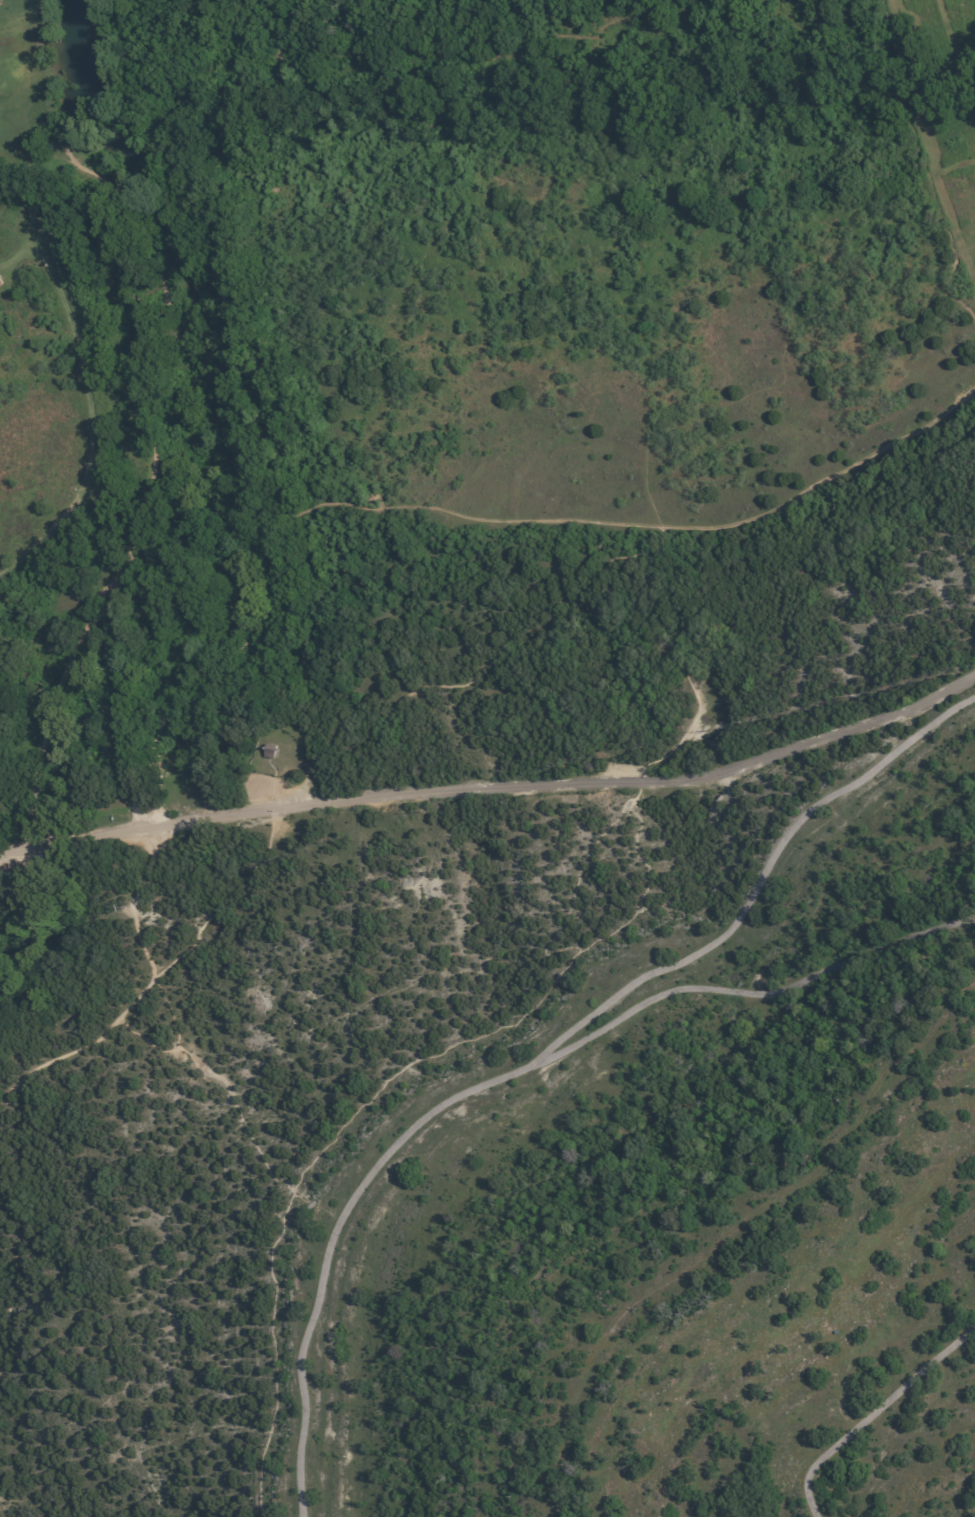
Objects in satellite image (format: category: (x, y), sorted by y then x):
road: (766, 10)
road: (446, 57)
road: (172, 97)
road: (71, 159)
road: (922, 161)
road: (182, 215)
road: (20, 255)
building: (1, 281)
road: (607, 299)
road: (177, 330)
road: (209, 341)
road: (786, 345)
road: (82, 366)
road: (629, 523)
road: (131, 539)
road: (267, 598)
park: (411, 602)
building: (271, 752)
road: (272, 783)
road: (543, 786)
road: (88, 841)
road: (38, 854)
road: (140, 906)
road: (162, 982)
road: (11, 1282)
road: (4, 1508)

